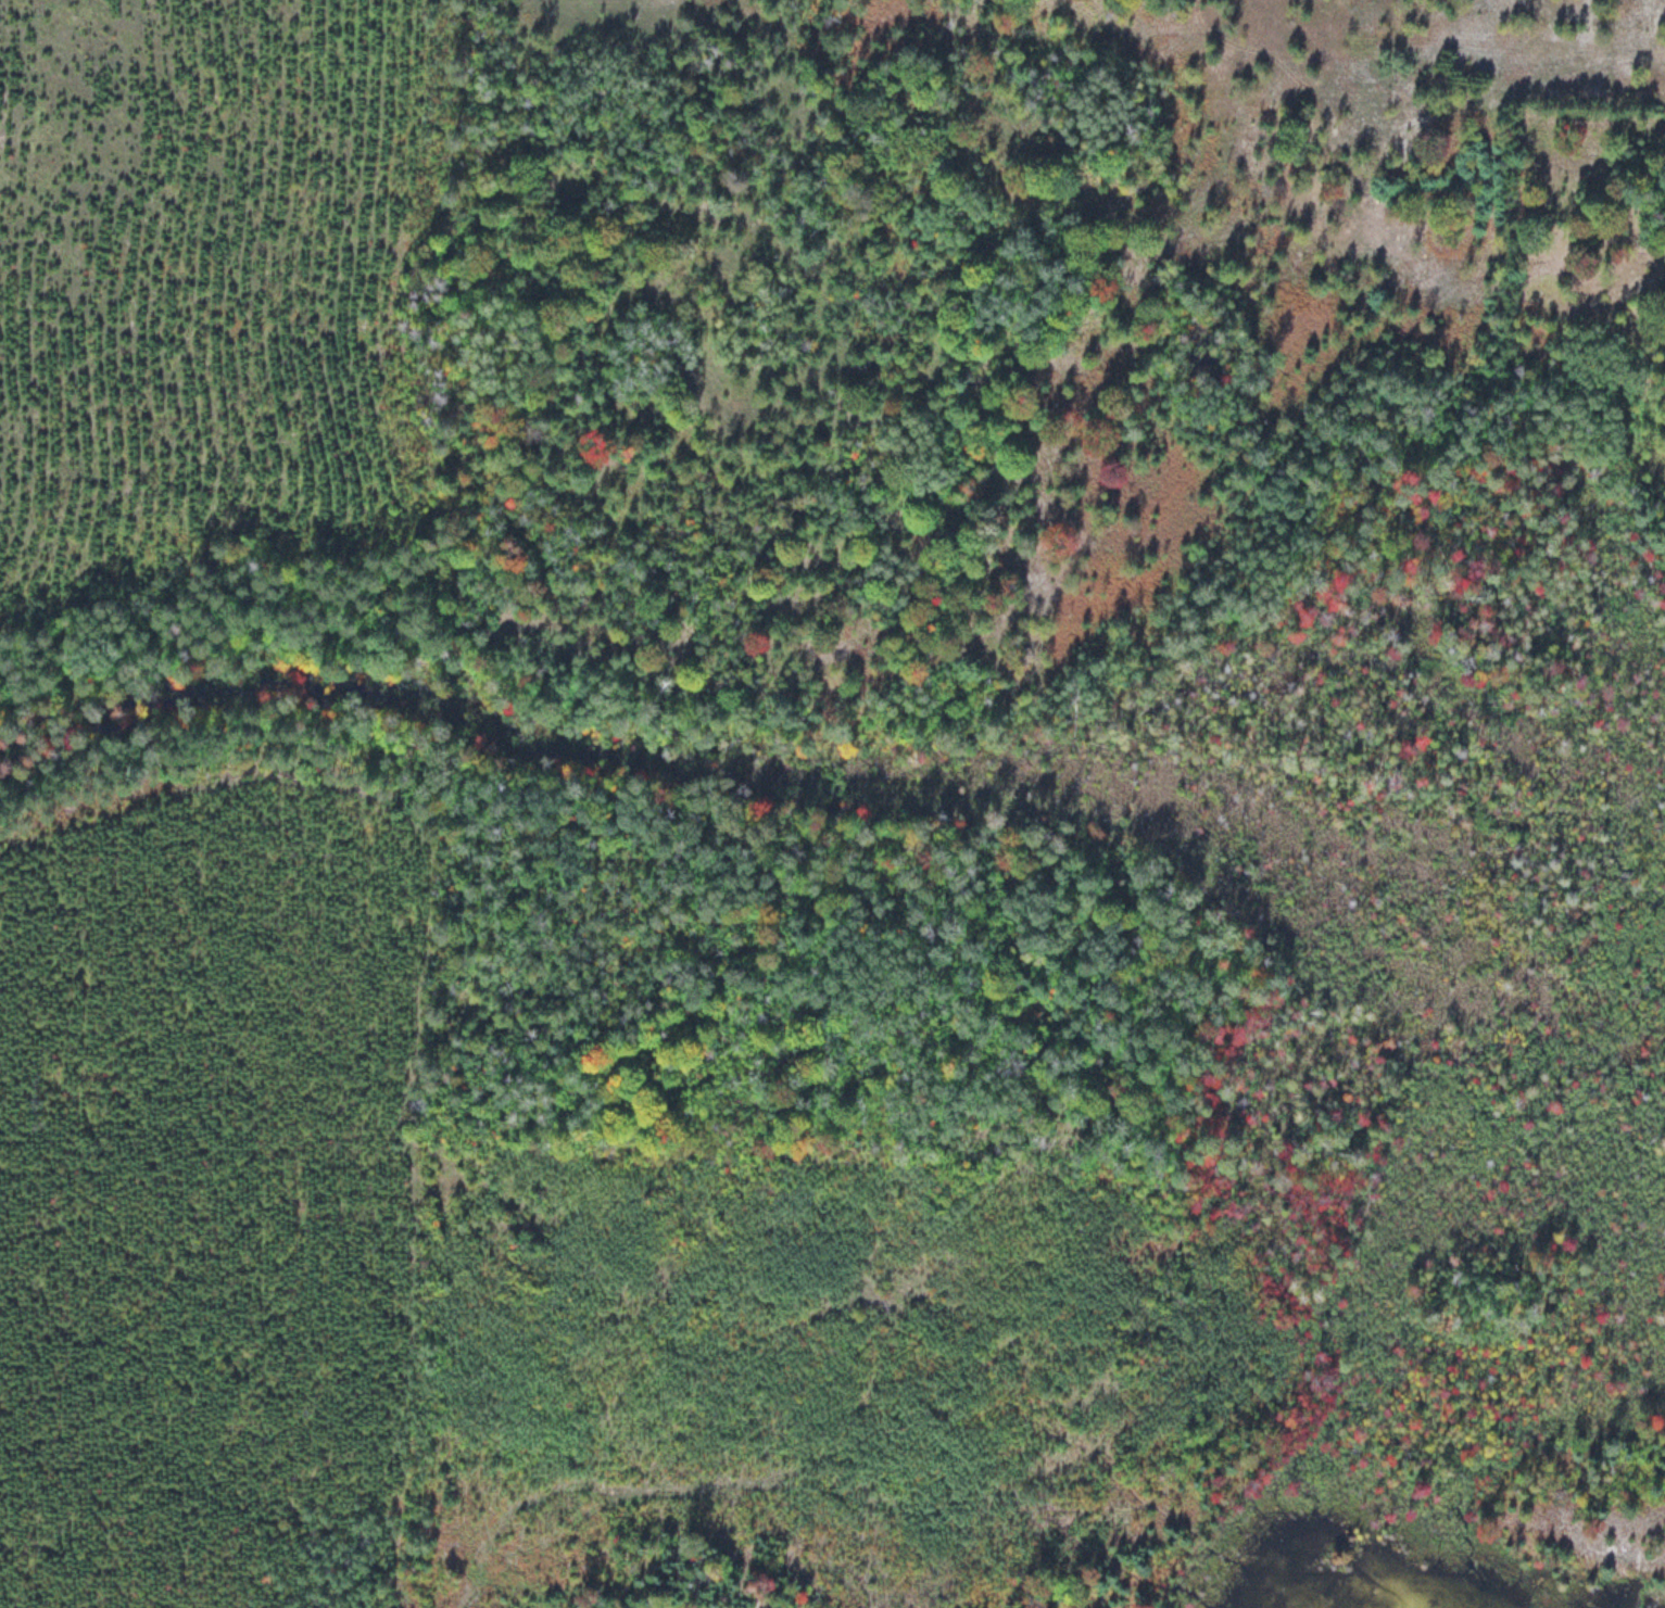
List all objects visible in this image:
road: (455, 492)

